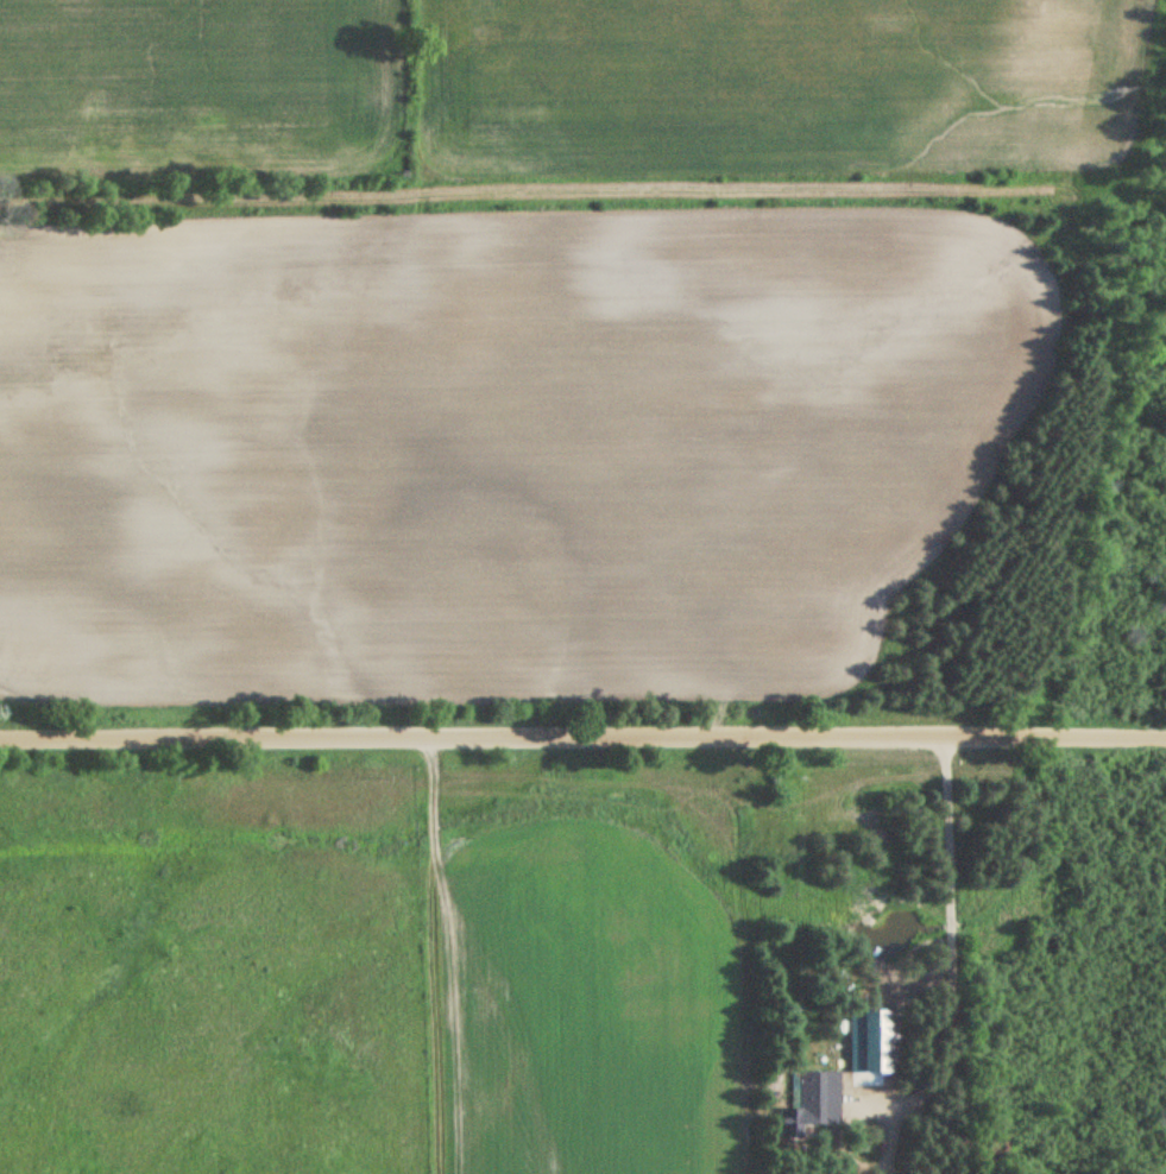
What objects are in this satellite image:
road: (582, 738)
building: (807, 1105)

